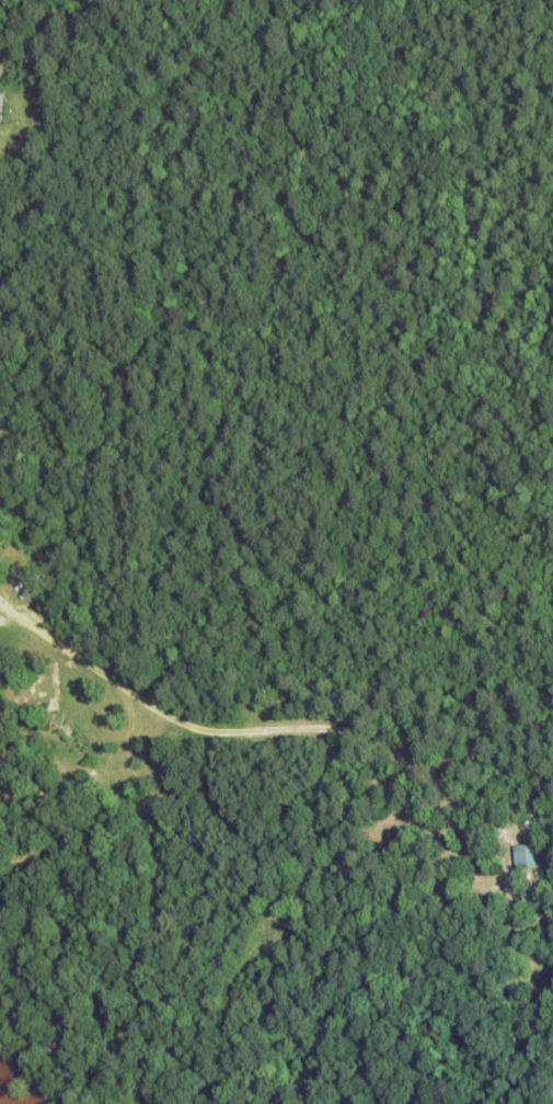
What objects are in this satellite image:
road: (35, 630)
building: (67, 735)
building: (522, 858)
building: (528, 895)
river: (4, 1096)

